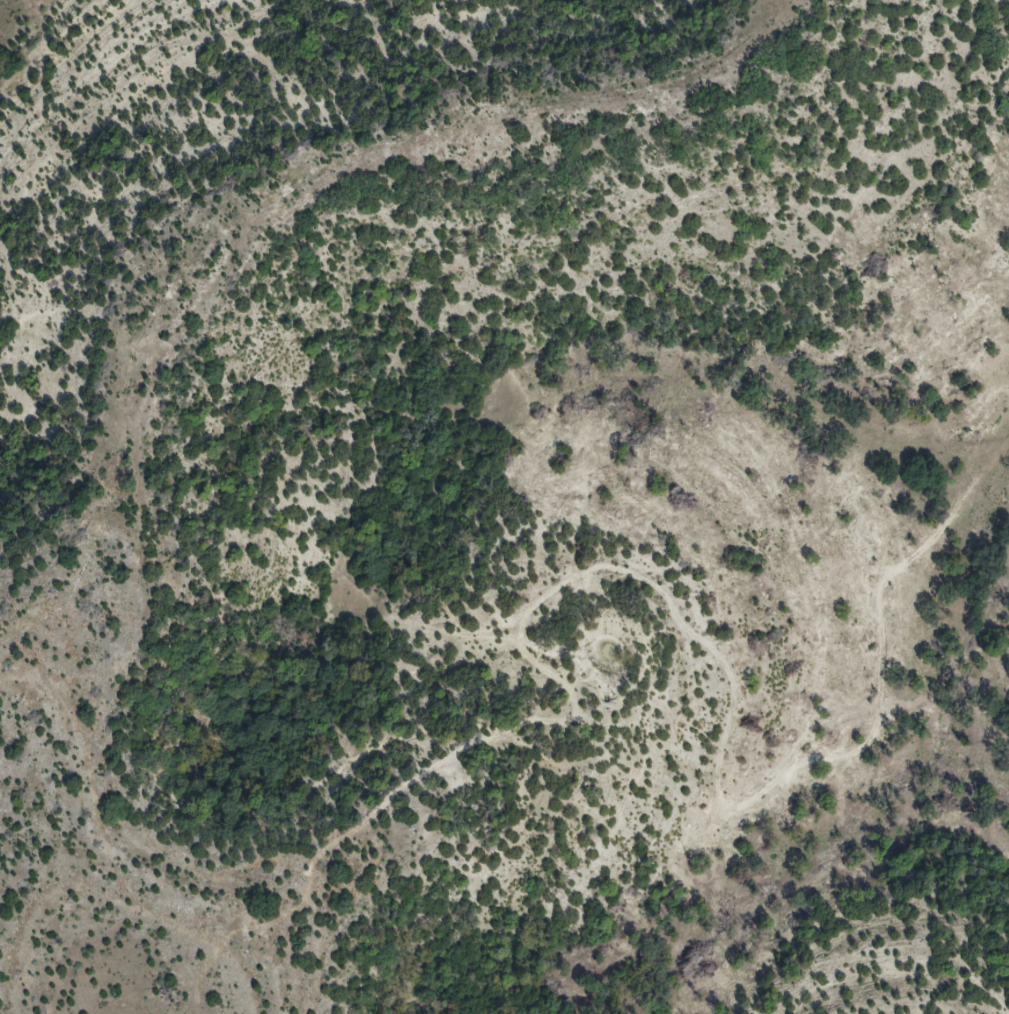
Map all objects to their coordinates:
road: (665, 618)

